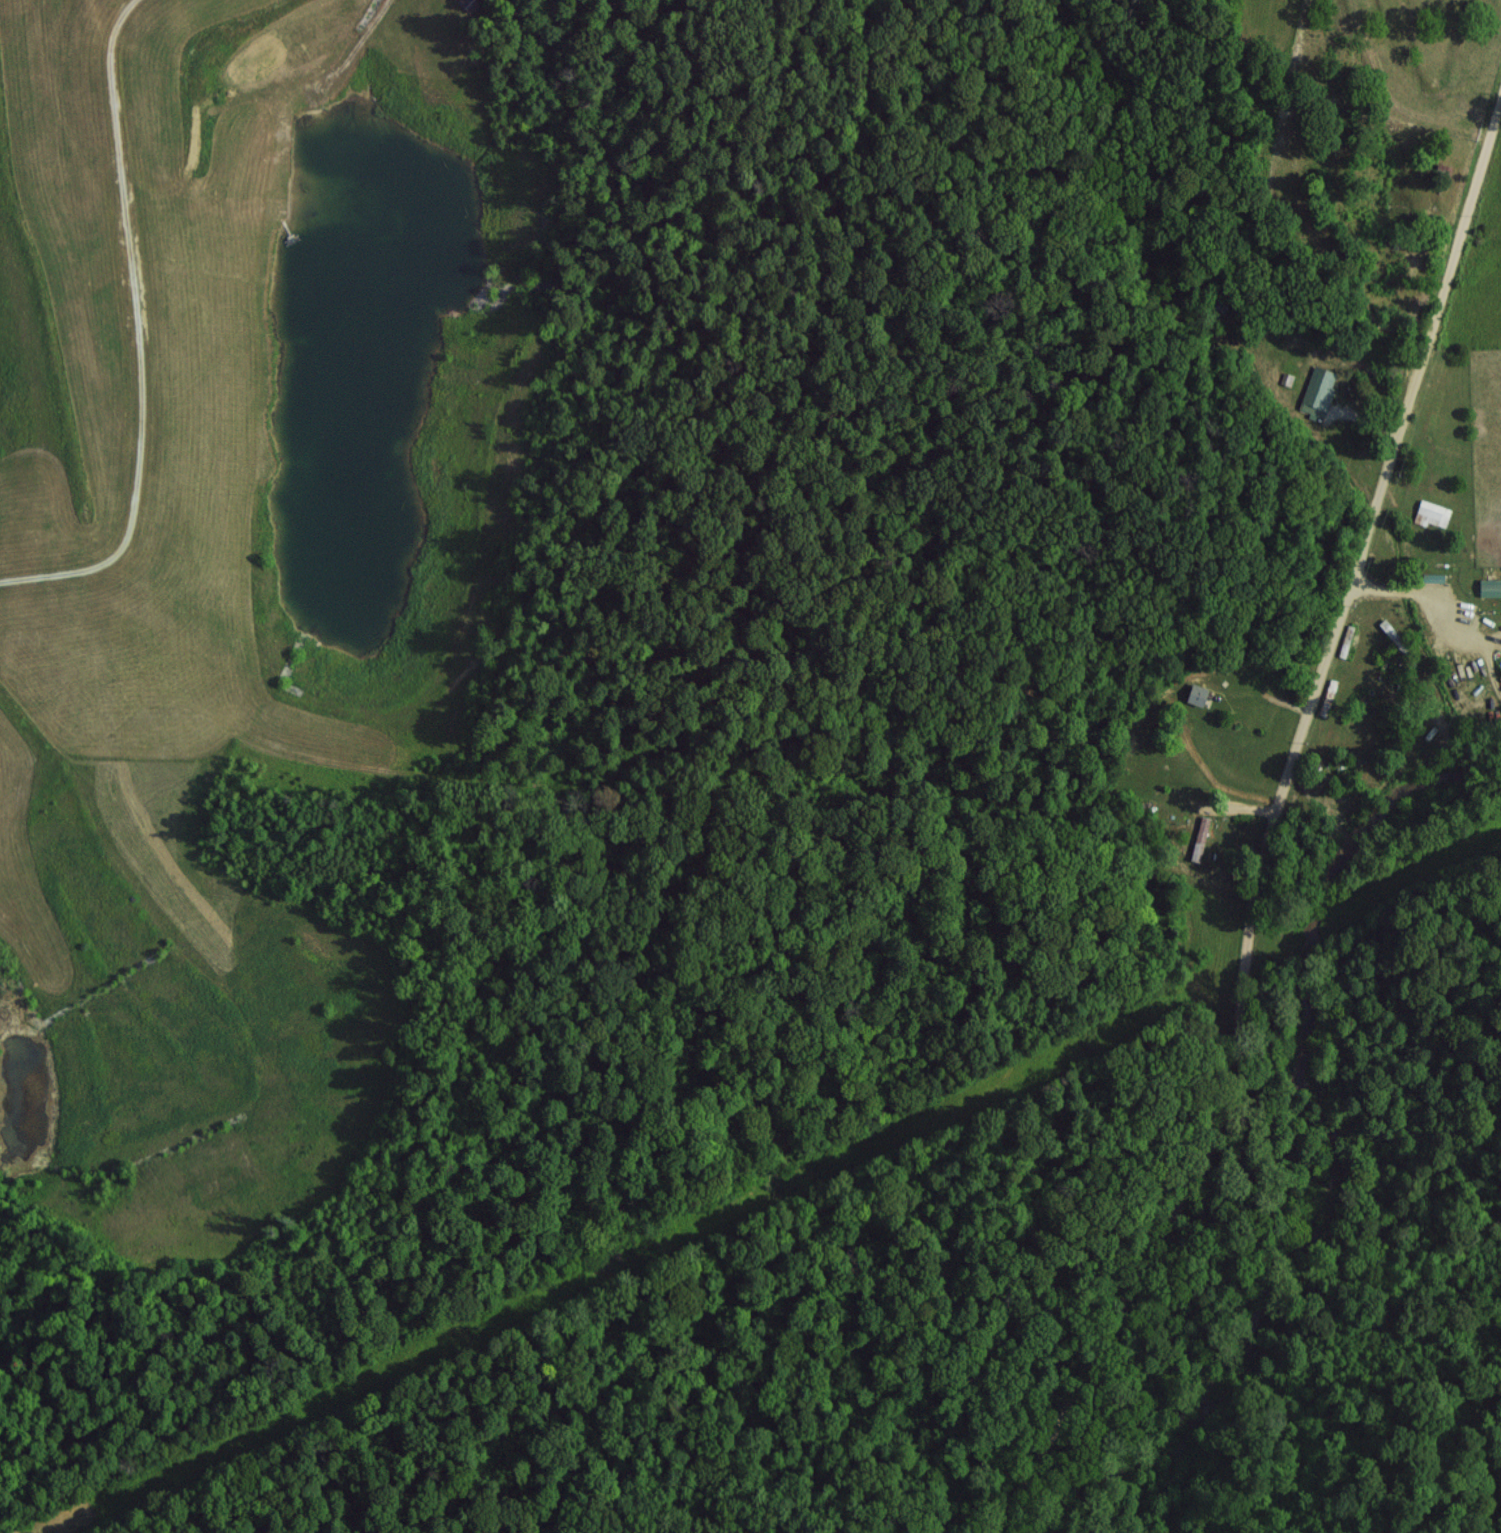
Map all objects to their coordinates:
road: (823, 106)
building: (1317, 389)
building: (1433, 512)
road: (1430, 597)
building: (1195, 694)
road: (1260, 829)

